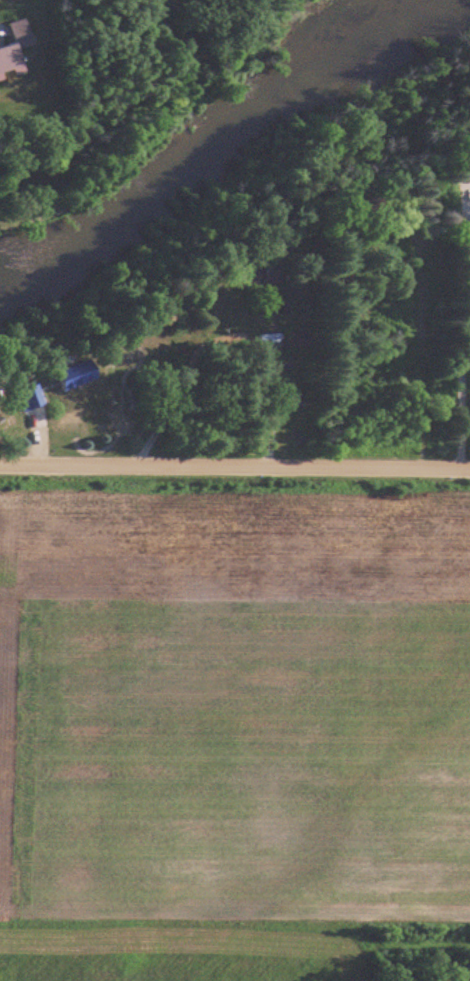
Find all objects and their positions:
building: (15, 50)
river: (223, 144)
building: (266, 272)
building: (303, 340)
road: (465, 343)
building: (79, 376)
road: (234, 466)

